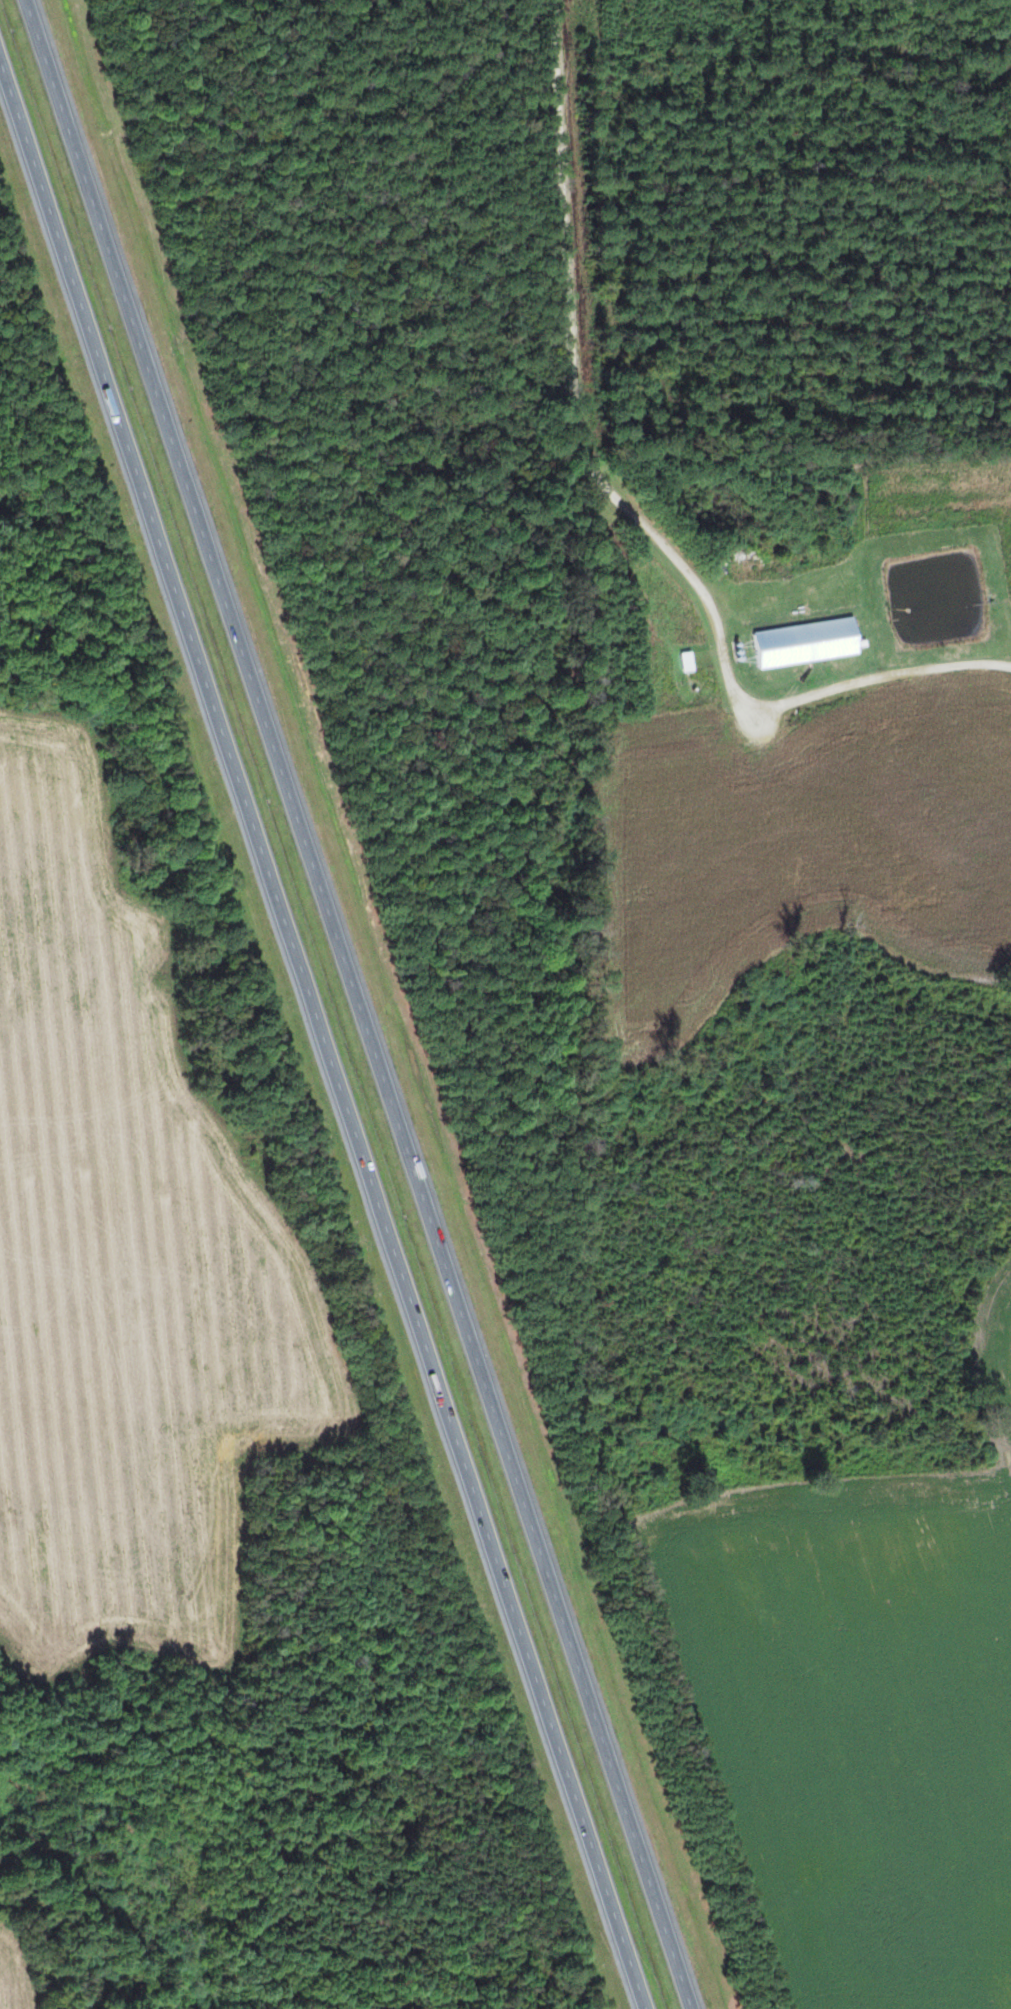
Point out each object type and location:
building: (776, 646)
road: (359, 1004)
road: (323, 1032)
crop: (123, 1258)

